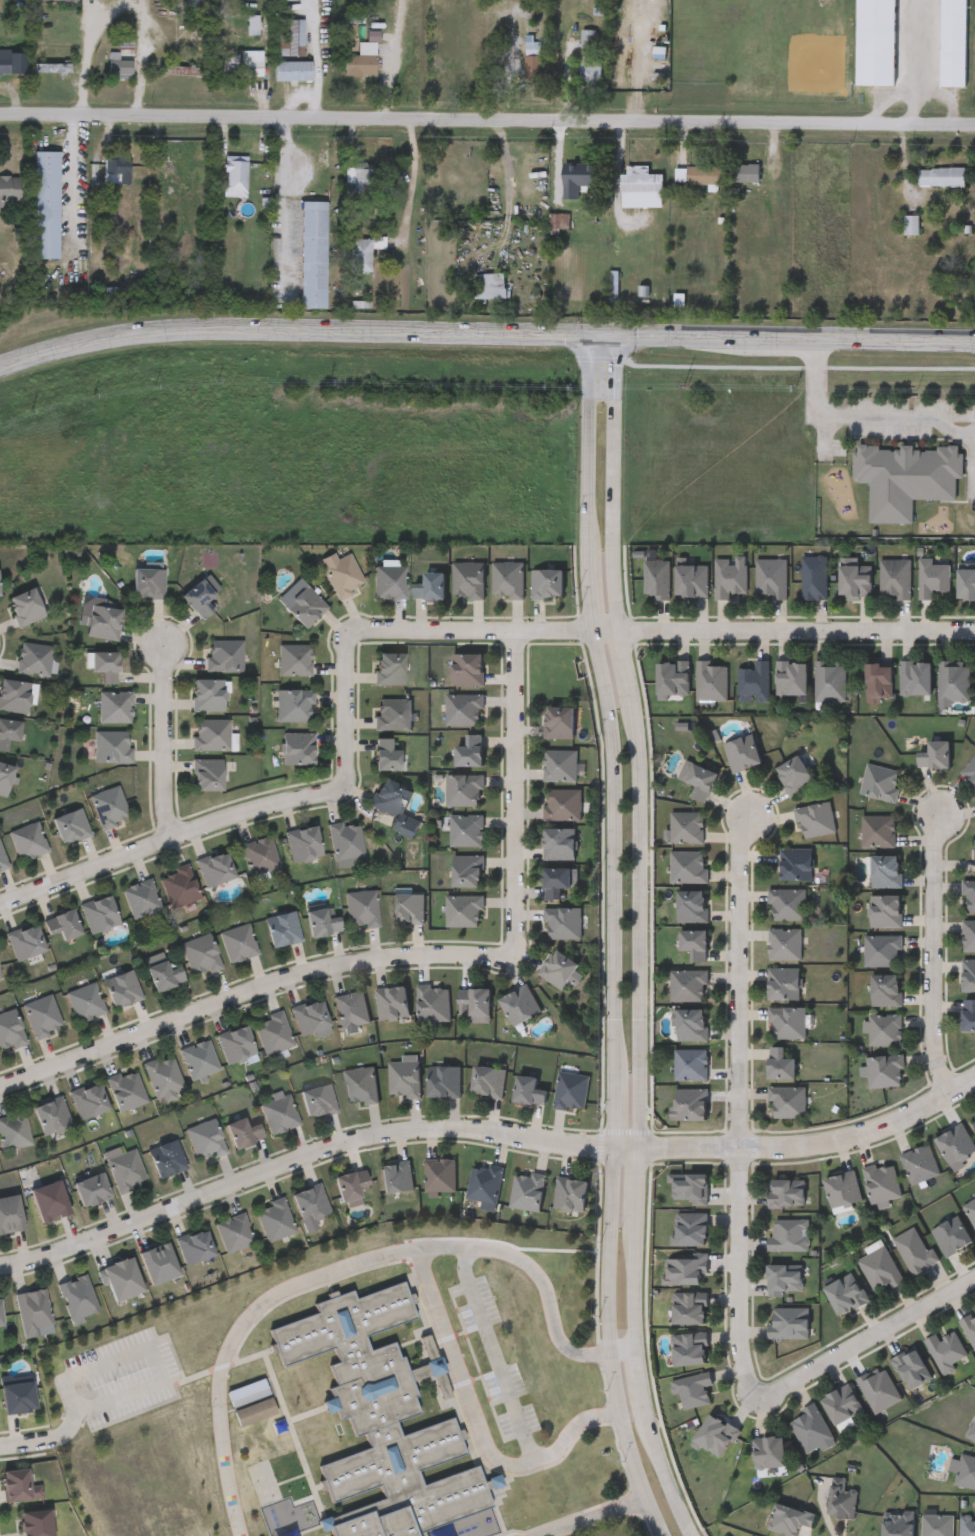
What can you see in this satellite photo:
building: (56, 1)
building: (288, 1)
building: (197, 5)
building: (601, 6)
building: (246, 24)
building: (290, 36)
building: (589, 37)
building: (875, 42)
building: (953, 43)
road: (151, 47)
road: (315, 50)
road: (99, 52)
building: (361, 59)
building: (533, 59)
road: (390, 60)
building: (12, 61)
building: (120, 62)
road: (916, 62)
building: (251, 66)
building: (52, 67)
building: (591, 68)
building: (181, 69)
building: (293, 69)
building: (182, 72)
road: (304, 98)
road: (888, 101)
road: (487, 122)
building: (116, 169)
building: (747, 171)
road: (73, 173)
building: (698, 173)
building: (235, 174)
building: (941, 175)
building: (358, 176)
road: (411, 185)
building: (640, 186)
building: (9, 187)
road: (283, 199)
building: (46, 203)
building: (557, 218)
building: (911, 223)
building: (20, 241)
building: (363, 250)
building: (313, 253)
building: (488, 284)
road: (485, 332)
traffic signals: (587, 335)
traffic signals: (617, 335)
road: (617, 367)
road: (861, 413)
building: (906, 476)
road: (588, 481)
road: (617, 514)
building: (343, 574)
building: (771, 575)
building: (814, 575)
building: (896, 575)
building: (933, 575)
building: (729, 576)
building: (468, 577)
building: (656, 577)
building: (691, 577)
building: (508, 578)
building: (854, 578)
building: (148, 580)
building: (389, 580)
building: (547, 581)
building: (966, 581)
building: (430, 584)
building: (0, 586)
building: (199, 595)
building: (28, 604)
building: (304, 604)
building: (105, 625)
road: (400, 629)
building: (225, 655)
building: (35, 658)
building: (295, 659)
building: (105, 664)
road: (628, 665)
building: (389, 667)
building: (467, 668)
building: (672, 677)
building: (791, 678)
building: (916, 678)
building: (755, 680)
building: (831, 680)
building: (712, 681)
building: (878, 681)
building: (954, 682)
building: (16, 694)
building: (207, 694)
building: (294, 704)
building: (114, 705)
building: (464, 708)
building: (393, 713)
building: (559, 721)
building: (9, 731)
building: (211, 733)
road: (164, 739)
building: (112, 745)
building: (297, 746)
building: (469, 750)
building: (742, 751)
building: (385, 754)
building: (934, 754)
building: (560, 763)
building: (970, 769)
building: (206, 774)
building: (795, 774)
building: (5, 777)
building: (698, 778)
building: (881, 781)
building: (464, 789)
building: (563, 802)
building: (109, 806)
building: (394, 806)
building: (816, 818)
building: (71, 825)
building: (688, 826)
building: (466, 829)
building: (879, 830)
building: (27, 840)
building: (346, 841)
building: (559, 841)
building: (304, 842)
building: (260, 854)
building: (3, 859)
building: (797, 863)
building: (689, 866)
building: (216, 867)
building: (467, 868)
building: (886, 870)
building: (555, 879)
building: (180, 885)
building: (969, 895)
building: (141, 896)
building: (788, 904)
building: (692, 905)
building: (409, 906)
building: (362, 907)
building: (464, 908)
building: (885, 910)
building: (100, 912)
building: (322, 920)
building: (563, 921)
building: (64, 923)
road: (643, 926)
building: (283, 927)
building: (969, 934)
building: (26, 940)
building: (238, 941)
building: (694, 943)
building: (786, 943)
building: (883, 949)
road: (936, 953)
building: (200, 954)
road: (411, 955)
building: (558, 967)
building: (163, 971)
building: (968, 974)
building: (0, 981)
building: (784, 982)
building: (689, 984)
building: (123, 987)
building: (886, 989)
building: (393, 1000)
building: (86, 1001)
building: (434, 1001)
building: (477, 1002)
building: (521, 1002)
building: (351, 1007)
building: (968, 1013)
building: (42, 1015)
building: (311, 1017)
building: (788, 1021)
building: (692, 1024)
building: (885, 1028)
building: (10, 1029)
building: (273, 1032)
building: (235, 1044)
building: (198, 1058)
building: (692, 1063)
building: (780, 1063)
building: (884, 1069)
building: (163, 1075)
building: (405, 1077)
building: (489, 1078)
building: (445, 1079)
building: (360, 1083)
road: (617, 1086)
building: (531, 1087)
building: (126, 1088)
building: (572, 1088)
building: (88, 1098)
building: (318, 1099)
building: (788, 1101)
building: (692, 1103)
road: (742, 1105)
building: (279, 1112)
building: (52, 1114)
building: (973, 1117)
building: (13, 1129)
building: (244, 1131)
building: (205, 1138)
road: (815, 1142)
building: (956, 1143)
road: (630, 1149)
building: (167, 1156)
road: (301, 1158)
building: (920, 1163)
building: (125, 1167)
building: (441, 1172)
building: (397, 1175)
building: (485, 1181)
building: (882, 1181)
building: (690, 1186)
building: (92, 1187)
building: (354, 1187)
building: (842, 1187)
building: (528, 1189)
road: (641, 1189)
building: (787, 1191)
building: (572, 1192)
building: (51, 1199)
building: (311, 1204)
building: (971, 1209)
building: (10, 1212)
building: (274, 1218)
building: (691, 1227)
building: (233, 1231)
building: (790, 1233)
building: (952, 1234)
building: (194, 1244)
building: (915, 1249)
building: (159, 1262)
road: (353, 1265)
building: (880, 1267)
building: (686, 1268)
building: (122, 1278)
building: (784, 1278)
road: (637, 1289)
building: (846, 1292)
building: (77, 1296)
building: (690, 1307)
building: (32, 1310)
building: (1, 1315)
building: (790, 1322)
building: (970, 1326)
road: (867, 1336)
building: (691, 1347)
building: (946, 1349)
road: (149, 1350)
road: (493, 1357)
building: (912, 1367)
road: (641, 1380)
building: (879, 1388)
building: (694, 1389)
building: (248, 1395)
building: (19, 1396)
building: (842, 1403)
building: (256, 1413)
building: (382, 1418)
road: (474, 1428)
building: (812, 1429)
road: (65, 1430)
building: (971, 1430)
building: (716, 1435)
road: (26, 1442)
building: (769, 1451)
building: (966, 1471)
road: (665, 1475)
building: (16, 1486)
building: (840, 1498)
road: (598, 1518)
building: (789, 1519)
building: (35, 1522)
building: (897, 1524)
building: (937, 1524)
building: (967, 1526)

